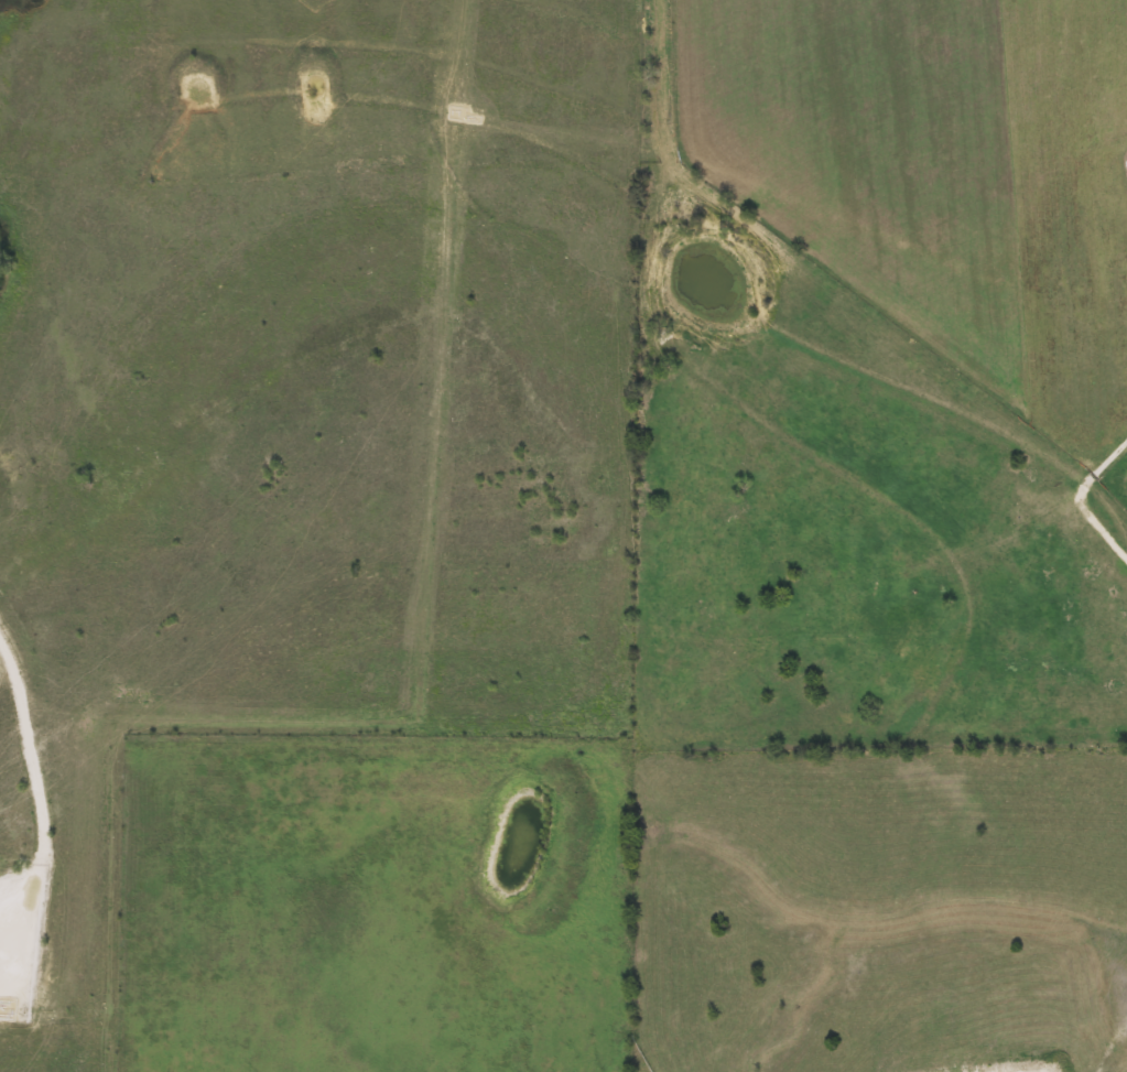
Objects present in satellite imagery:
road: (33, 764)

